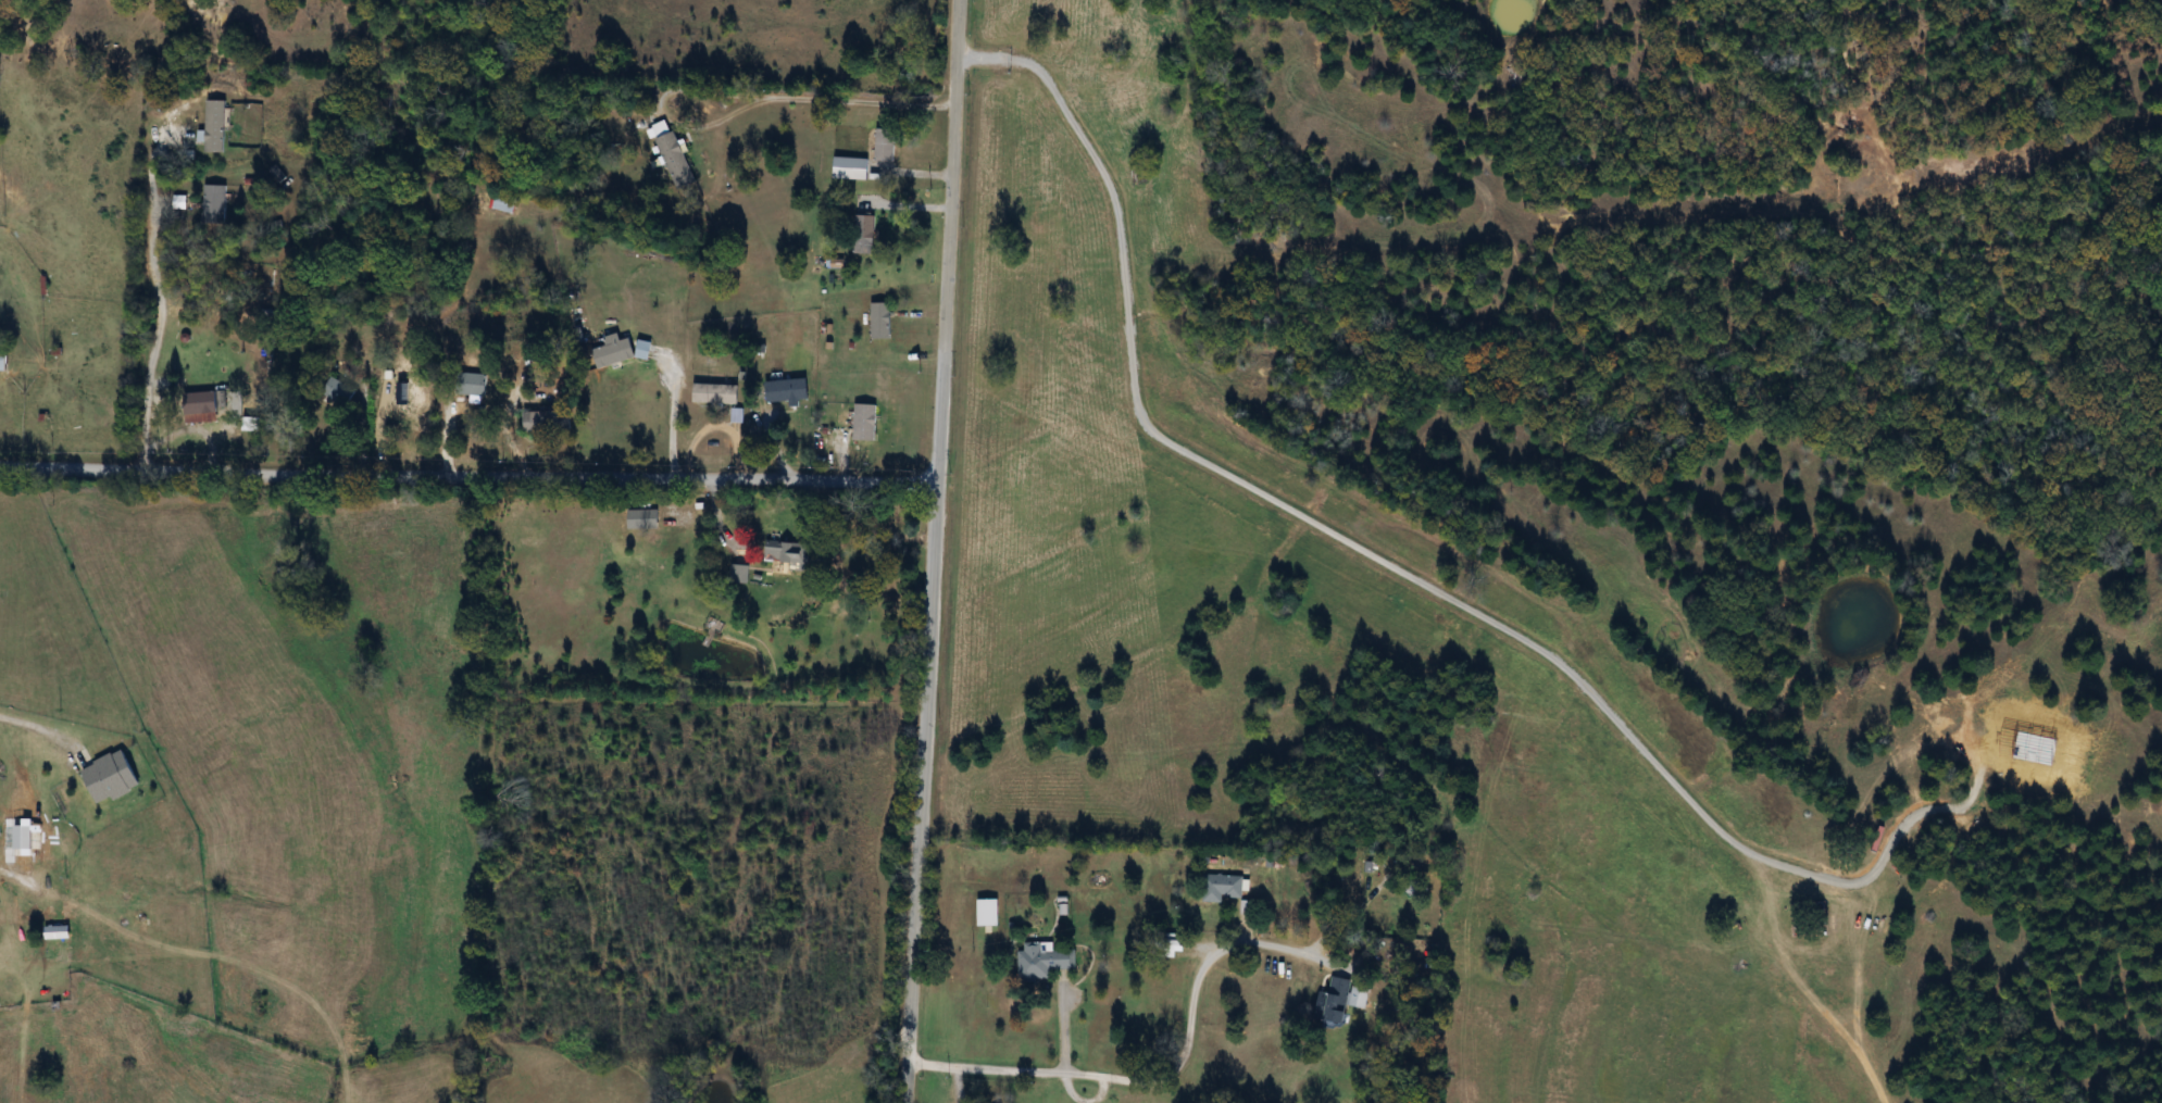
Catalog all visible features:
building: (1061, 67)
road: (750, 92)
building: (217, 126)
building: (887, 146)
building: (675, 156)
building: (852, 168)
building: (505, 203)
building: (215, 205)
building: (865, 235)
road: (159, 312)
building: (882, 321)
building: (615, 351)
building: (5, 355)
building: (473, 384)
building: (787, 391)
building: (717, 393)
building: (203, 402)
road: (671, 414)
building: (550, 422)
building: (866, 422)
road: (467, 475)
building: (645, 521)
road: (932, 551)
building: (787, 555)
building: (739, 573)
road: (39, 723)
building: (112, 778)
building: (25, 838)
building: (1224, 888)
building: (990, 913)
building: (60, 933)
building: (1047, 962)
building: (1342, 1001)
road: (1163, 1071)

